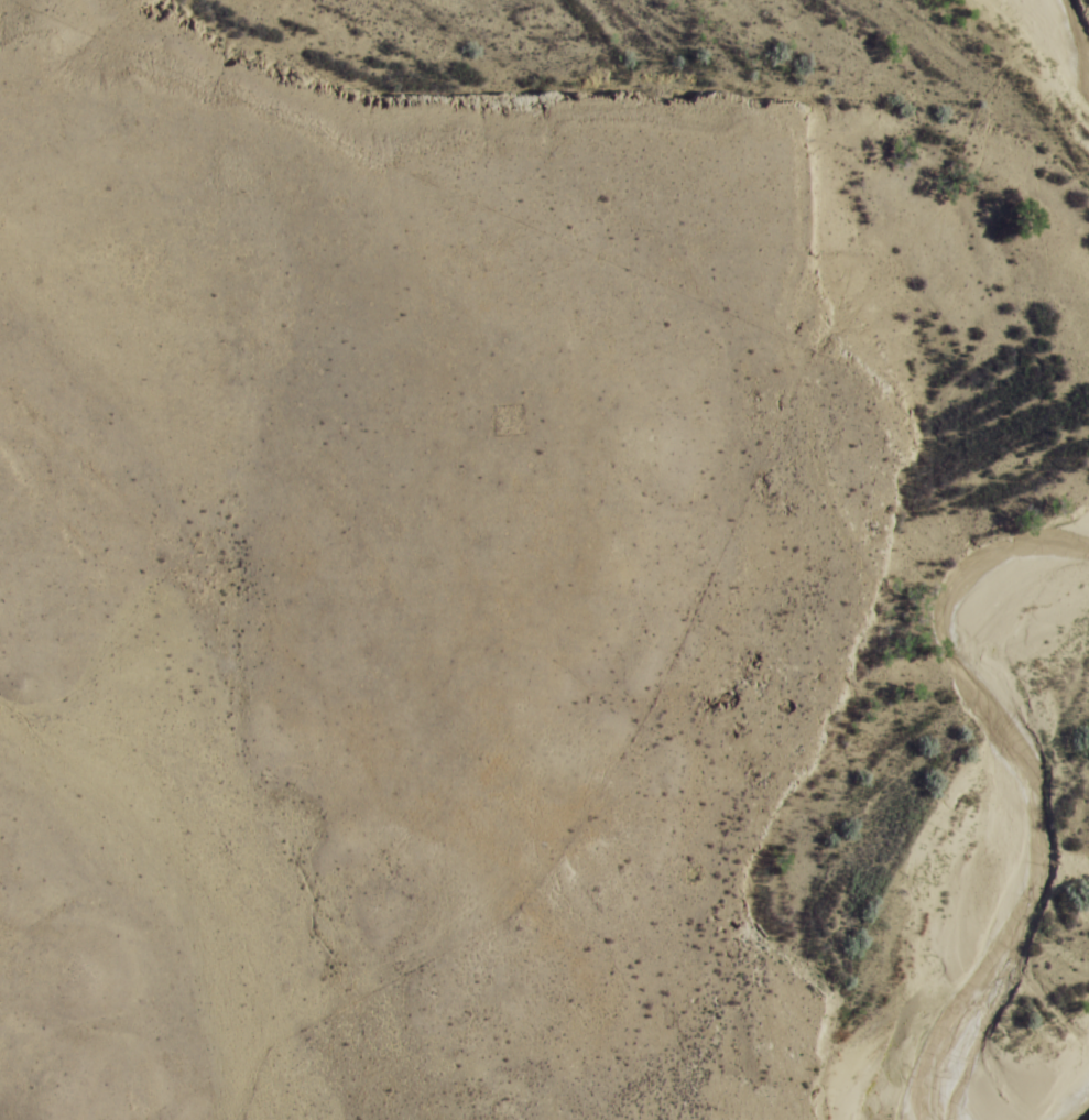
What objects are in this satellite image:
river: (1035, 44)
river: (929, 913)

